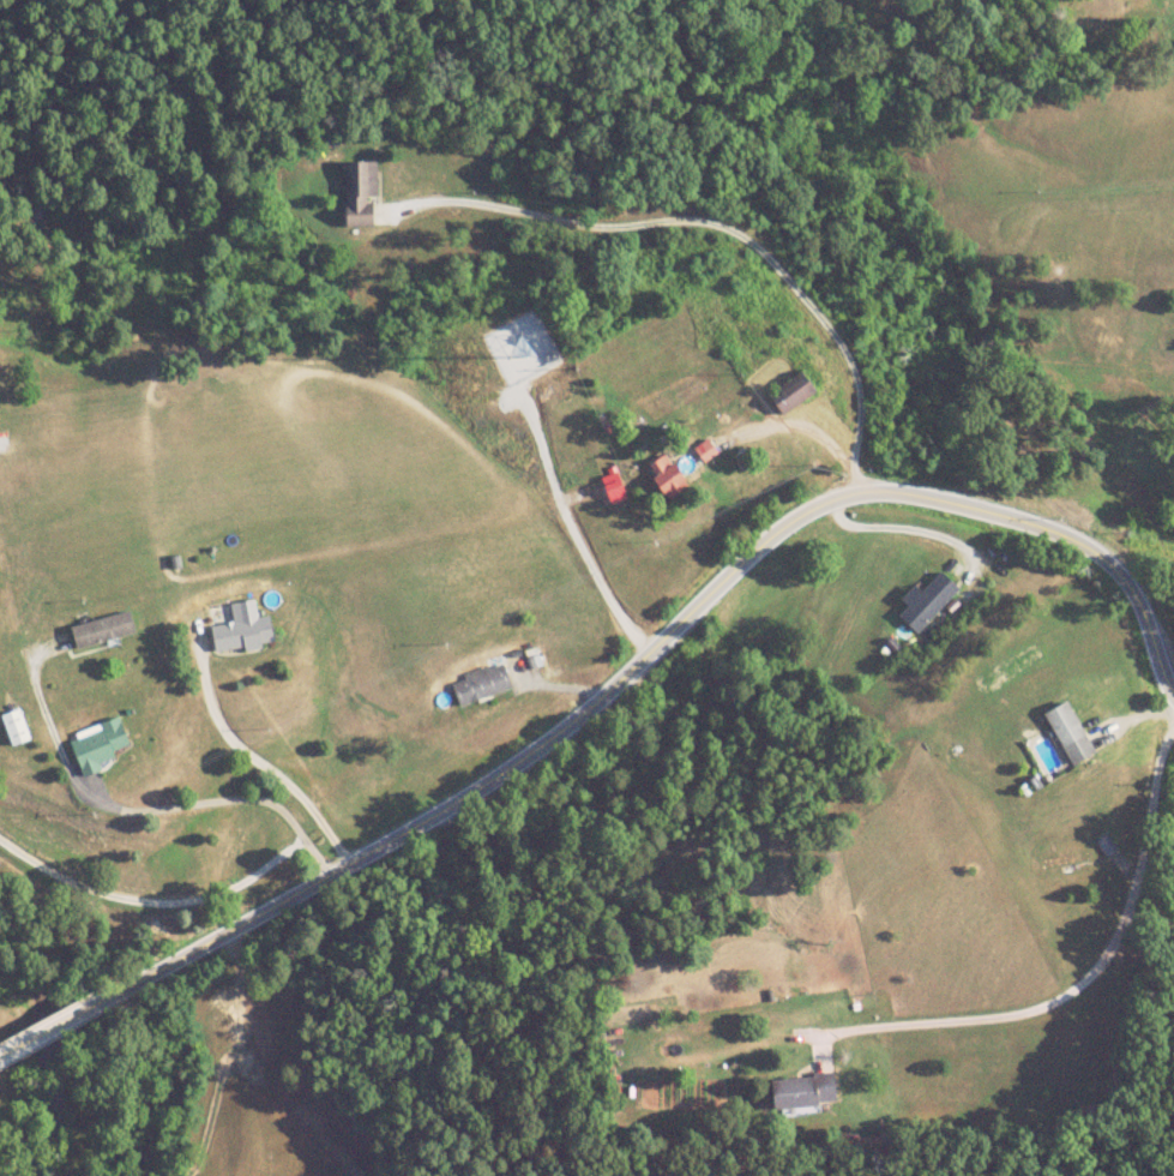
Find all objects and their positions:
building: (360, 193)
road: (724, 226)
building: (794, 394)
building: (672, 481)
building: (929, 602)
building: (243, 630)
building: (103, 631)
road: (655, 647)
building: (482, 684)
building: (16, 728)
building: (1070, 732)
building: (100, 746)
road: (225, 799)
road: (153, 902)
road: (44, 1033)
road: (2, 1057)
river: (30, 1057)
building: (803, 1091)

